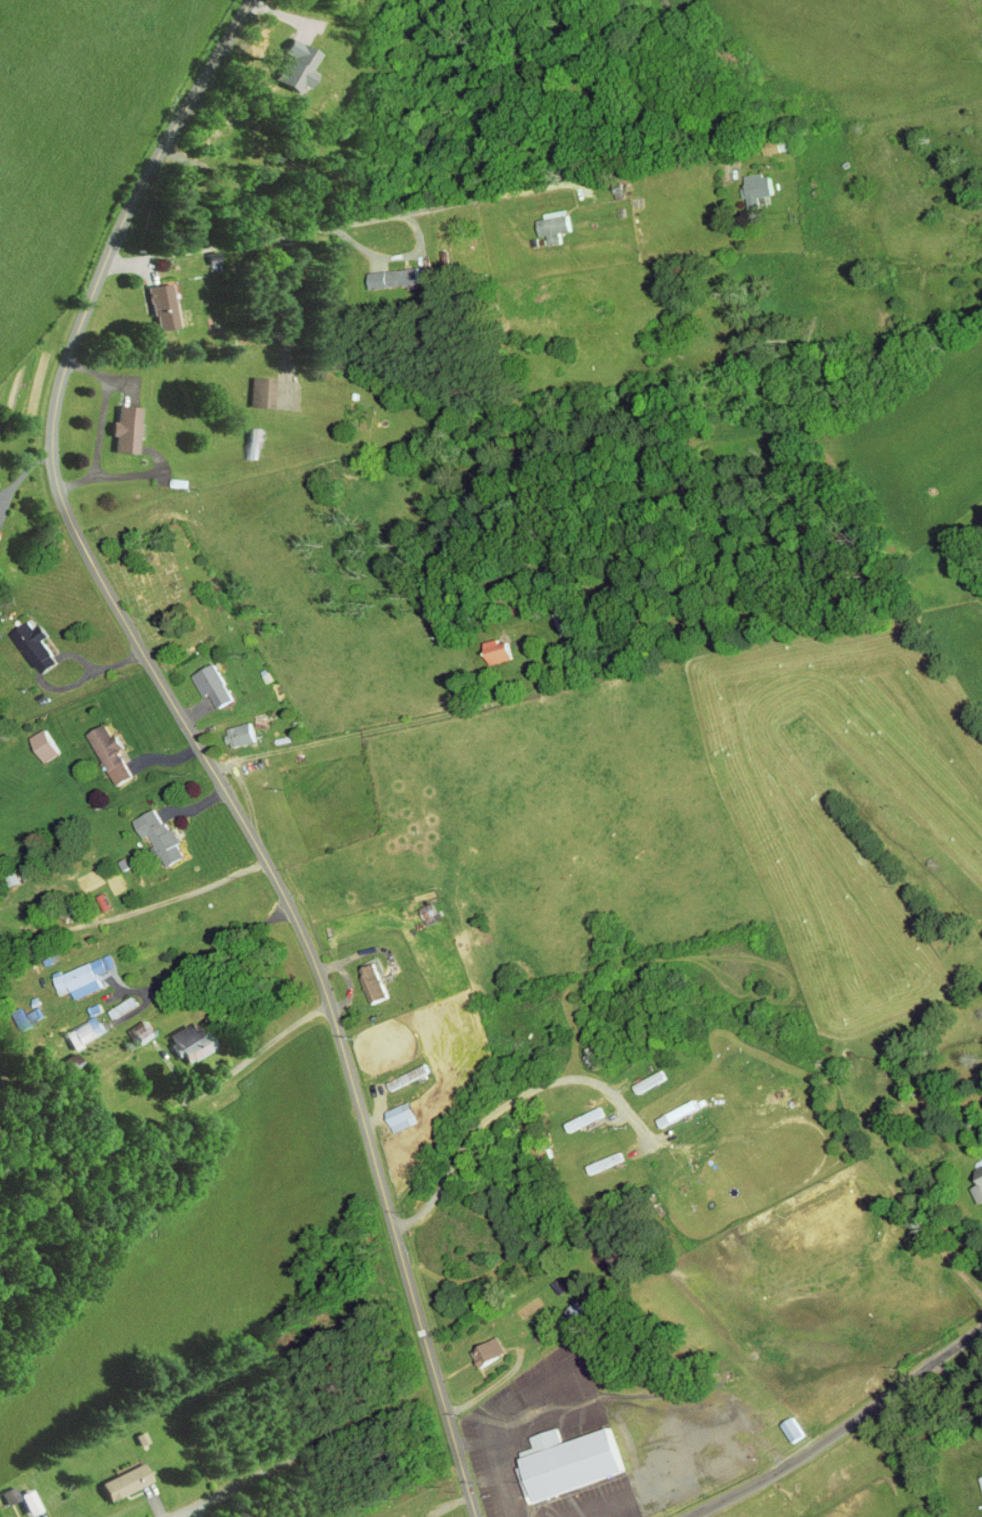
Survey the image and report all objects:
road: (421, 211)
road: (396, 257)
road: (289, 297)
road: (13, 482)
park: (170, 590)
road: (397, 726)
road: (196, 743)
road: (146, 1004)
road: (509, 1102)
road: (955, 1379)
road: (841, 1430)
road: (307, 1452)

